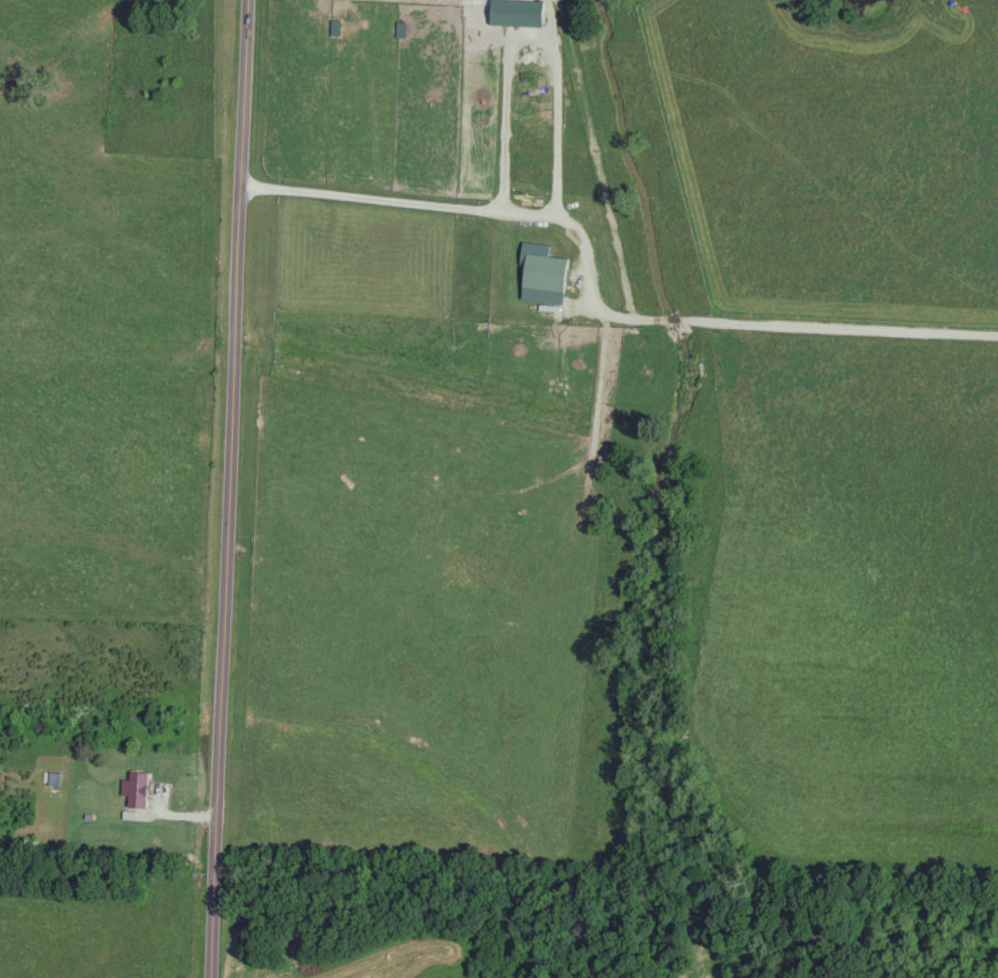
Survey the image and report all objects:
building: (518, 9)
road: (529, 37)
building: (545, 274)
road: (592, 304)
road: (238, 489)
building: (137, 790)

